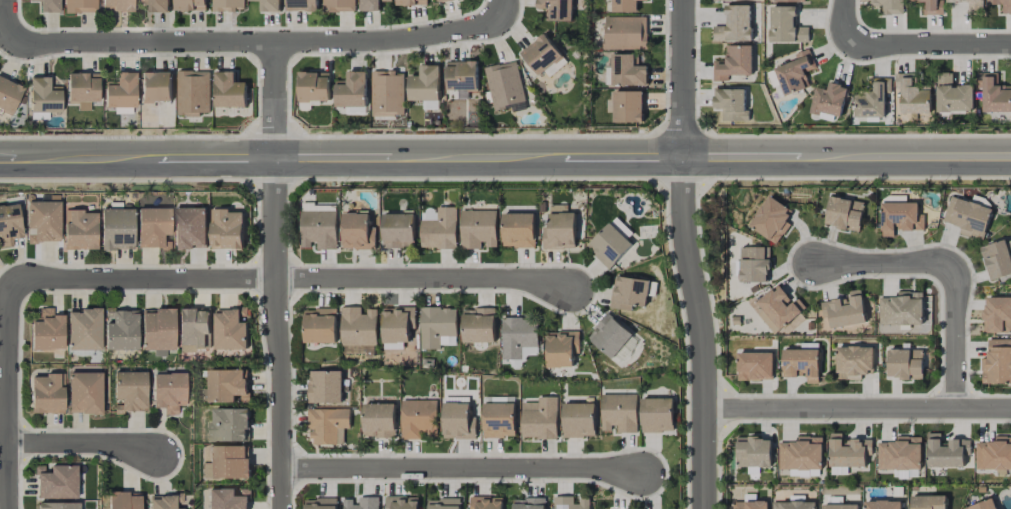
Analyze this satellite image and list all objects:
building: (445, 0)
building: (789, 1)
building: (411, 2)
building: (48, 5)
building: (116, 5)
building: (158, 5)
building: (190, 5)
building: (227, 5)
building: (269, 5)
building: (302, 5)
building: (370, 5)
road: (504, 5)
building: (971, 5)
building: (1002, 5)
building: (80, 6)
building: (339, 6)
building: (625, 6)
building: (888, 6)
building: (933, 7)
building: (557, 9)
road: (845, 21)
road: (9, 22)
building: (734, 25)
building: (786, 26)
building: (626, 33)
road: (928, 42)
road: (260, 43)
building: (541, 54)
building: (733, 63)
building: (628, 71)
building: (795, 73)
building: (462, 76)
road: (684, 77)
building: (425, 84)
building: (504, 85)
building: (313, 86)
building: (156, 87)
building: (82, 89)
building: (229, 90)
building: (351, 90)
building: (121, 93)
building: (193, 93)
building: (387, 93)
building: (8, 95)
building: (912, 95)
building: (953, 95)
building: (995, 95)
building: (43, 98)
building: (828, 100)
building: (871, 101)
building: (731, 104)
building: (628, 107)
road: (505, 155)
building: (558, 208)
building: (844, 213)
building: (967, 215)
building: (900, 218)
building: (771, 220)
building: (43, 221)
building: (9, 224)
building: (116, 228)
building: (153, 228)
building: (190, 228)
building: (621, 228)
building: (79, 229)
building: (227, 229)
building: (318, 229)
building: (478, 229)
building: (398, 230)
building: (440, 230)
building: (518, 230)
building: (358, 232)
building: (560, 232)
building: (608, 246)
building: (997, 260)
building: (754, 264)
road: (948, 274)
road: (275, 276)
road: (296, 278)
building: (631, 292)
building: (777, 309)
building: (901, 309)
building: (844, 310)
building: (997, 315)
building: (478, 325)
building: (320, 326)
building: (358, 326)
building: (397, 326)
building: (437, 327)
building: (84, 328)
building: (121, 329)
building: (231, 329)
building: (47, 330)
building: (157, 330)
road: (700, 331)
building: (609, 335)
building: (518, 336)
building: (561, 348)
building: (357, 349)
building: (529, 352)
building: (854, 362)
building: (997, 362)
building: (801, 364)
building: (905, 364)
building: (755, 366)
building: (227, 385)
building: (324, 387)
building: (129, 391)
building: (168, 391)
building: (84, 392)
road: (10, 393)
building: (46, 394)
road: (856, 409)
building: (618, 413)
building: (657, 415)
building: (418, 418)
building: (539, 418)
building: (379, 420)
building: (499, 420)
building: (578, 420)
building: (457, 421)
building: (229, 425)
building: (328, 425)
road: (80, 439)
building: (848, 451)
building: (753, 452)
building: (946, 452)
building: (801, 454)
building: (900, 454)
building: (994, 454)
building: (227, 463)
road: (463, 470)
building: (56, 481)
building: (227, 498)
building: (124, 500)
building: (165, 501)
building: (402, 502)
building: (928, 502)
building: (321, 503)
building: (361, 503)
building: (486, 503)
building: (528, 503)
building: (570, 503)
building: (443, 504)
building: (882, 504)
building: (58, 505)
building: (750, 505)
building: (793, 505)
building: (983, 505)
building: (840, 506)

